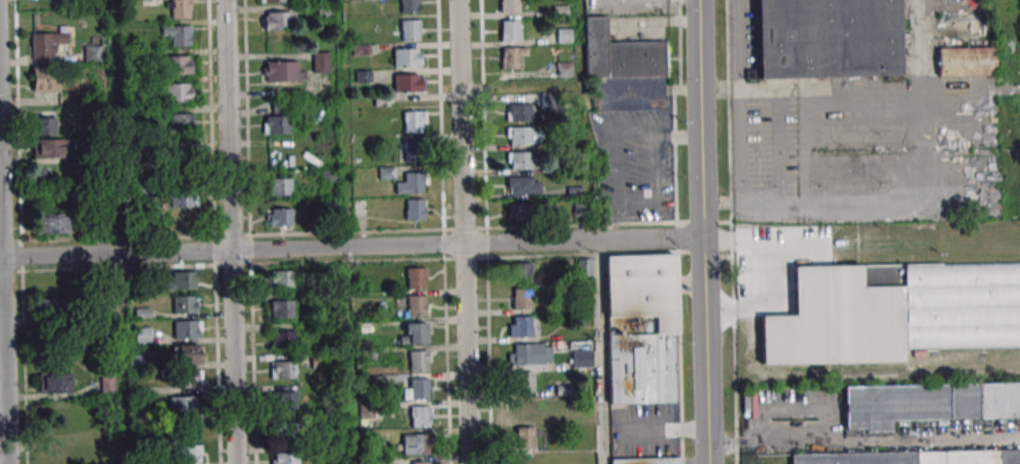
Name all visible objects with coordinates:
building: (272, 1)
building: (409, 6)
building: (509, 6)
building: (179, 8)
building: (275, 20)
building: (409, 30)
building: (510, 30)
building: (178, 34)
building: (564, 36)
building: (828, 38)
road: (576, 43)
building: (46, 45)
building: (92, 52)
building: (620, 54)
building: (407, 57)
building: (512, 57)
building: (321, 61)
building: (966, 61)
building: (179, 65)
building: (564, 69)
building: (281, 71)
building: (45, 78)
building: (408, 83)
road: (494, 88)
building: (179, 92)
building: (549, 100)
building: (519, 112)
building: (278, 118)
building: (414, 121)
building: (181, 122)
building: (44, 123)
building: (523, 135)
building: (183, 144)
building: (51, 148)
building: (413, 151)
building: (522, 160)
parking lot: (634, 164)
building: (412, 183)
building: (523, 185)
building: (279, 186)
building: (143, 194)
building: (184, 199)
building: (414, 209)
building: (519, 211)
building: (279, 217)
building: (54, 223)
road: (118, 231)
road: (347, 231)
road: (732, 231)
road: (229, 232)
road: (463, 232)
road: (702, 232)
road: (351, 247)
road: (582, 254)
building: (584, 265)
building: (528, 271)
building: (416, 277)
building: (282, 279)
building: (182, 280)
building: (524, 299)
building: (185, 304)
building: (418, 305)
building: (51, 307)
building: (281, 309)
building: (892, 313)
road: (3, 323)
building: (521, 326)
building: (187, 329)
building: (642, 329)
road: (216, 331)
building: (416, 333)
building: (143, 335)
building: (283, 339)
road: (253, 349)
road: (602, 352)
building: (186, 354)
building: (530, 354)
road: (680, 358)
building: (582, 359)
building: (419, 360)
building: (283, 369)
building: (187, 379)
building: (55, 382)
building: (523, 382)
building: (107, 384)
building: (563, 387)
building: (418, 389)
building: (286, 399)
building: (183, 405)
building: (930, 405)
building: (522, 409)
building: (580, 413)
building: (420, 416)
building: (287, 433)
building: (525, 437)
road: (863, 439)
building: (416, 443)
building: (188, 453)
building: (284, 458)
building: (912, 458)
building: (647, 460)
building: (423, 462)

